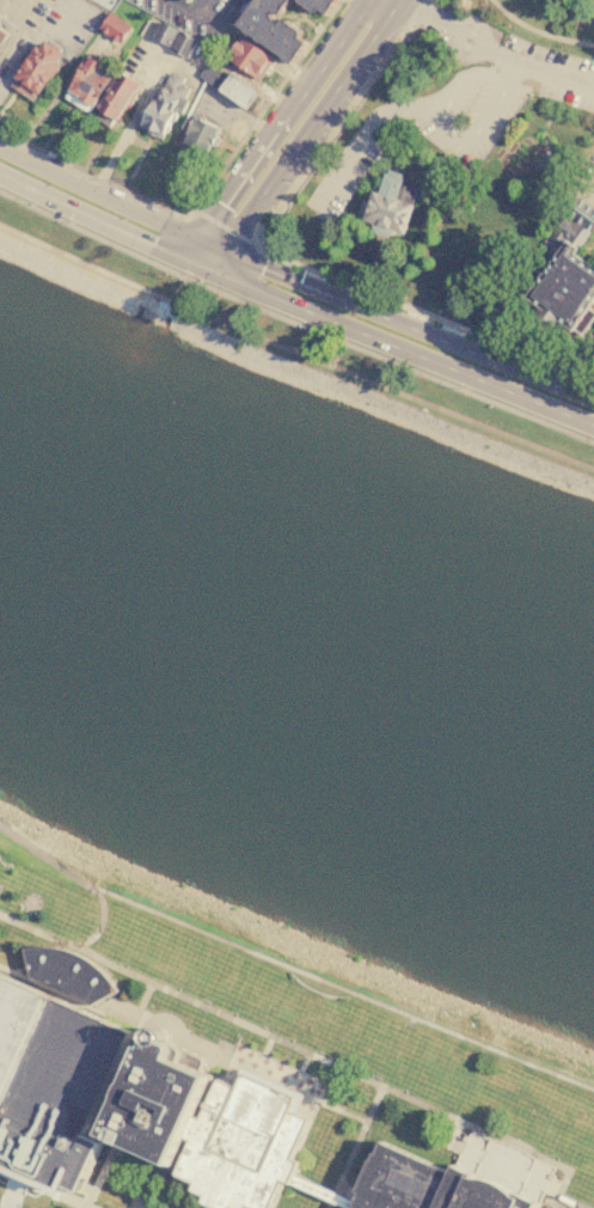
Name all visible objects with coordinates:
building: (190, 0)
road: (398, 0)
road: (399, 0)
building: (185, 1)
building: (314, 5)
road: (189, 8)
building: (447, 11)
road: (428, 17)
park: (540, 22)
street lamp: (509, 24)
building: (115, 28)
road: (19, 29)
building: (269, 29)
road: (473, 29)
road: (537, 31)
building: (164, 33)
building: (1, 35)
building: (182, 45)
street lamp: (563, 45)
building: (250, 59)
road: (534, 69)
building: (36, 71)
parking lot: (555, 72)
building: (86, 86)
building: (238, 91)
building: (115, 99)
road: (295, 102)
building: (163, 105)
street lamp: (362, 105)
parking lot: (469, 111)
road: (443, 123)
road: (308, 126)
road: (127, 128)
building: (198, 138)
road: (359, 139)
street lamp: (316, 172)
parking lot: (343, 175)
parking lot: (583, 185)
road: (589, 189)
road: (42, 193)
road: (208, 195)
road: (109, 202)
traffic signals: (221, 205)
building: (390, 207)
road: (120, 222)
road: (227, 227)
road: (203, 228)
traffic signals: (154, 239)
street lamp: (264, 244)
road: (170, 246)
road: (216, 258)
road: (240, 261)
road: (284, 261)
road: (372, 262)
road: (194, 268)
traffic signals: (262, 269)
building: (564, 277)
road: (249, 280)
road: (327, 319)
road: (294, 323)
road: (428, 334)
road: (531, 338)
road: (294, 353)
road: (470, 377)
street lamp: (467, 388)
river: (296, 635)
road: (78, 877)
park: (44, 896)
road: (13, 972)
building: (67, 975)
road: (342, 988)
park: (361, 1037)
road: (299, 1050)
building: (51, 1084)
building: (157, 1099)
road: (453, 1131)
road: (357, 1140)
building: (243, 1145)
road: (105, 1164)
road: (540, 1173)
road: (20, 1178)
road: (19, 1179)
road: (148, 1184)
building: (430, 1185)
road: (48, 1191)
building: (323, 1192)
road: (12, 1196)
road: (332, 1196)
road: (72, 1202)
road: (329, 1204)
road: (561, 1204)

